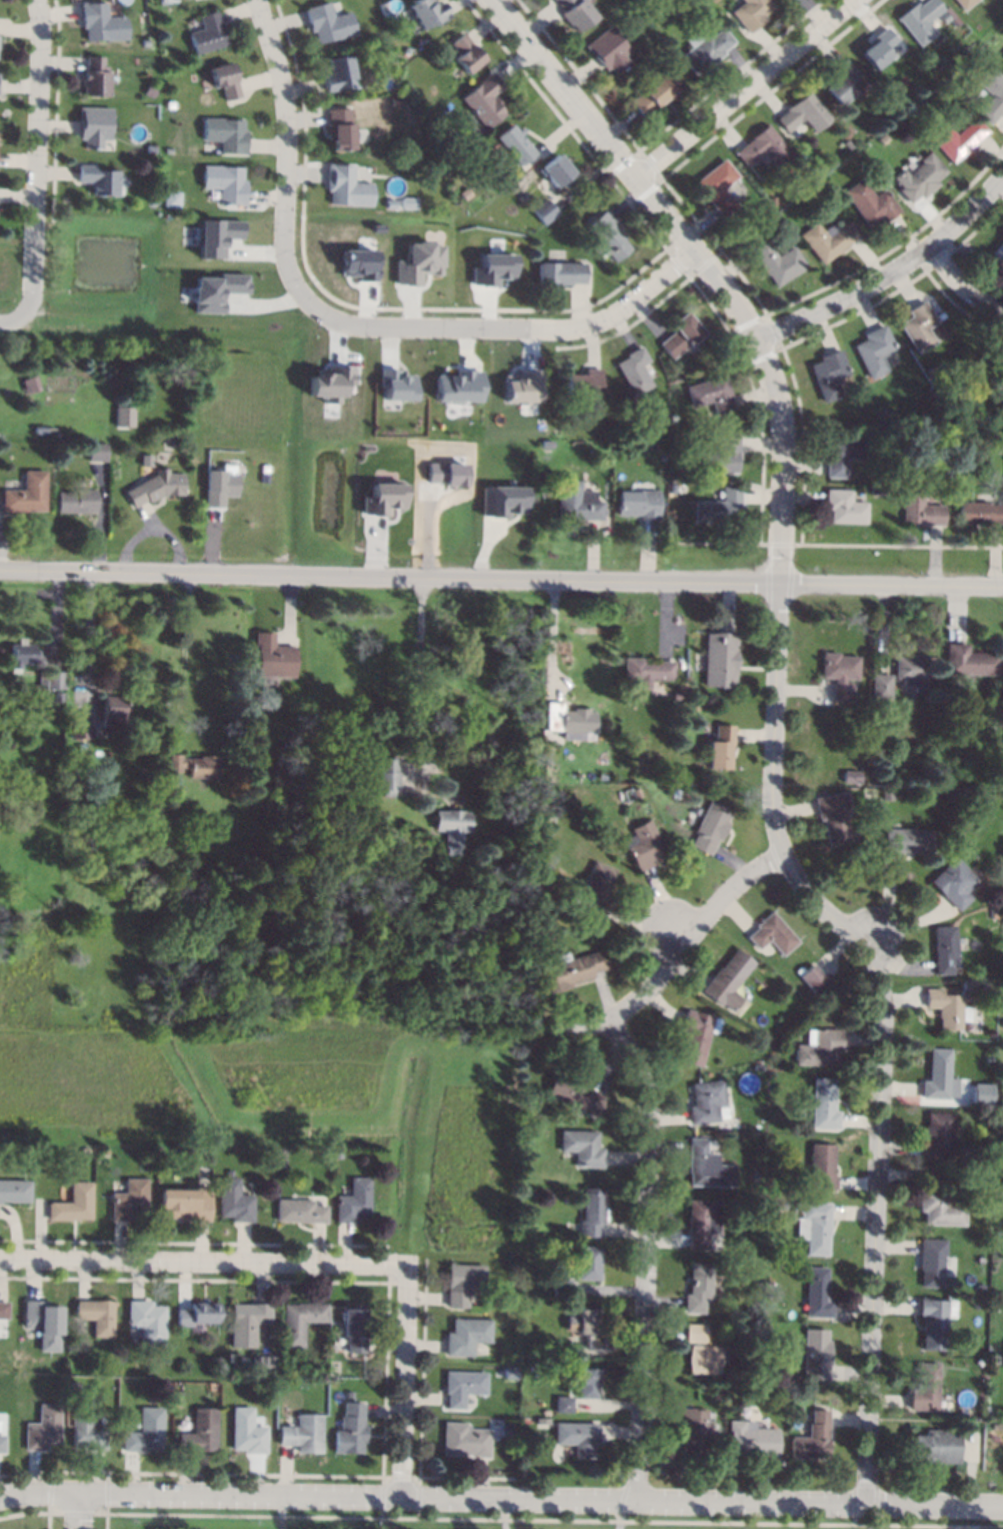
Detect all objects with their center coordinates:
building: (712, 1)
building: (966, 3)
building: (428, 12)
building: (576, 13)
building: (752, 13)
building: (944, 16)
building: (921, 19)
building: (956, 20)
building: (102, 23)
building: (328, 23)
building: (208, 33)
building: (145, 43)
building: (878, 48)
building: (706, 49)
building: (609, 50)
building: (408, 51)
building: (465, 54)
building: (1002, 54)
building: (339, 75)
building: (94, 76)
building: (225, 80)
building: (843, 82)
road: (747, 86)
building: (148, 91)
building: (863, 92)
building: (655, 93)
building: (992, 94)
building: (396, 102)
building: (485, 102)
building: (804, 113)
building: (94, 126)
building: (340, 129)
building: (226, 134)
building: (958, 138)
building: (884, 139)
building: (848, 144)
building: (516, 145)
building: (764, 147)
building: (151, 148)
building: (445, 149)
building: (169, 150)
road: (287, 151)
road: (37, 154)
building: (556, 170)
building: (920, 178)
building: (97, 179)
building: (225, 183)
building: (347, 187)
building: (719, 187)
building: (524, 197)
building: (773, 200)
building: (153, 202)
building: (167, 202)
building: (408, 203)
building: (870, 203)
building: (391, 204)
building: (546, 211)
building: (215, 236)
building: (609, 237)
building: (829, 239)
building: (1002, 239)
building: (999, 252)
building: (777, 261)
building: (418, 263)
building: (358, 264)
building: (492, 269)
road: (892, 272)
building: (562, 273)
road: (950, 277)
building: (215, 291)
road: (14, 311)
building: (919, 326)
road: (508, 327)
building: (682, 335)
building: (874, 350)
building: (635, 370)
building: (935, 371)
building: (829, 374)
building: (330, 383)
building: (31, 384)
building: (584, 384)
building: (395, 385)
building: (458, 386)
building: (63, 387)
building: (521, 387)
building: (712, 394)
building: (125, 417)
building: (617, 427)
building: (42, 430)
building: (675, 442)
building: (548, 443)
building: (996, 448)
building: (98, 452)
building: (843, 455)
building: (721, 458)
building: (146, 460)
building: (894, 465)
building: (446, 473)
building: (265, 478)
building: (156, 487)
building: (220, 487)
building: (672, 488)
building: (888, 493)
building: (27, 494)
building: (384, 498)
building: (76, 501)
building: (502, 501)
building: (578, 501)
building: (639, 503)
building: (719, 506)
building: (845, 507)
building: (921, 509)
building: (981, 513)
road: (501, 578)
road: (554, 632)
road: (88, 637)
building: (23, 653)
road: (185, 655)
building: (274, 657)
building: (721, 660)
building: (970, 661)
road: (415, 670)
building: (648, 671)
building: (913, 671)
building: (841, 674)
building: (51, 680)
building: (882, 686)
building: (60, 697)
building: (678, 697)
building: (694, 705)
building: (113, 712)
building: (71, 715)
road: (774, 721)
building: (570, 722)
building: (81, 729)
building: (405, 742)
building: (721, 748)
building: (85, 749)
building: (544, 758)
building: (195, 766)
building: (385, 776)
building: (852, 776)
building: (635, 789)
building: (676, 793)
building: (888, 794)
building: (835, 816)
building: (550, 818)
building: (711, 827)
building: (452, 828)
building: (856, 837)
building: (182, 840)
building: (400, 841)
building: (907, 842)
building: (645, 846)
building: (954, 883)
building: (595, 892)
building: (773, 935)
building: (548, 936)
building: (945, 950)
road: (664, 955)
building: (571, 970)
building: (812, 977)
building: (728, 980)
building: (968, 984)
building: (804, 986)
building: (787, 988)
building: (946, 1008)
building: (697, 1036)
building: (819, 1047)
building: (988, 1064)
building: (939, 1077)
building: (576, 1095)
building: (989, 1097)
building: (707, 1103)
building: (823, 1105)
building: (937, 1136)
building: (582, 1148)
building: (208, 1149)
building: (85, 1151)
building: (106, 1152)
building: (336, 1153)
building: (279, 1157)
building: (706, 1166)
building: (822, 1167)
building: (229, 1172)
building: (965, 1173)
building: (756, 1177)
building: (14, 1191)
building: (130, 1200)
building: (234, 1201)
building: (354, 1201)
building: (186, 1203)
building: (73, 1204)
building: (771, 1205)
building: (781, 1205)
building: (940, 1208)
building: (301, 1211)
building: (591, 1212)
building: (1002, 1221)
building: (702, 1222)
building: (813, 1225)
building: (982, 1240)
road: (638, 1254)
road: (202, 1261)
building: (931, 1261)
building: (587, 1263)
building: (781, 1264)
building: (463, 1283)
building: (561, 1287)
building: (697, 1288)
building: (818, 1293)
building: (978, 1303)
building: (4, 1310)
building: (198, 1314)
building: (98, 1316)
building: (147, 1321)
building: (247, 1321)
building: (300, 1321)
building: (935, 1322)
building: (44, 1323)
building: (353, 1327)
building: (585, 1327)
building: (694, 1333)
building: (467, 1336)
building: (816, 1355)
building: (703, 1359)
building: (997, 1360)
building: (978, 1362)
building: (290, 1366)
building: (236, 1368)
building: (265, 1370)
building: (570, 1374)
road: (403, 1380)
building: (587, 1383)
building: (463, 1387)
building: (926, 1388)
building: (348, 1394)
building: (779, 1398)
building: (563, 1404)
building: (544, 1420)
building: (996, 1427)
building: (44, 1428)
building: (88, 1429)
building: (350, 1429)
building: (146, 1432)
building: (200, 1432)
building: (247, 1432)
building: (692, 1432)
building: (303, 1434)
building: (577, 1438)
building: (813, 1438)
building: (995, 1439)
building: (464, 1440)
building: (751, 1440)
building: (2, 1444)
building: (935, 1446)
road: (501, 1497)
road: (50, 1509)
road: (80, 1509)
road: (107, 1509)
road: (281, 1511)
road: (505, 1513)
road: (620, 1514)
park: (328, 1518)
road: (501, 1519)
park: (782, 1521)

